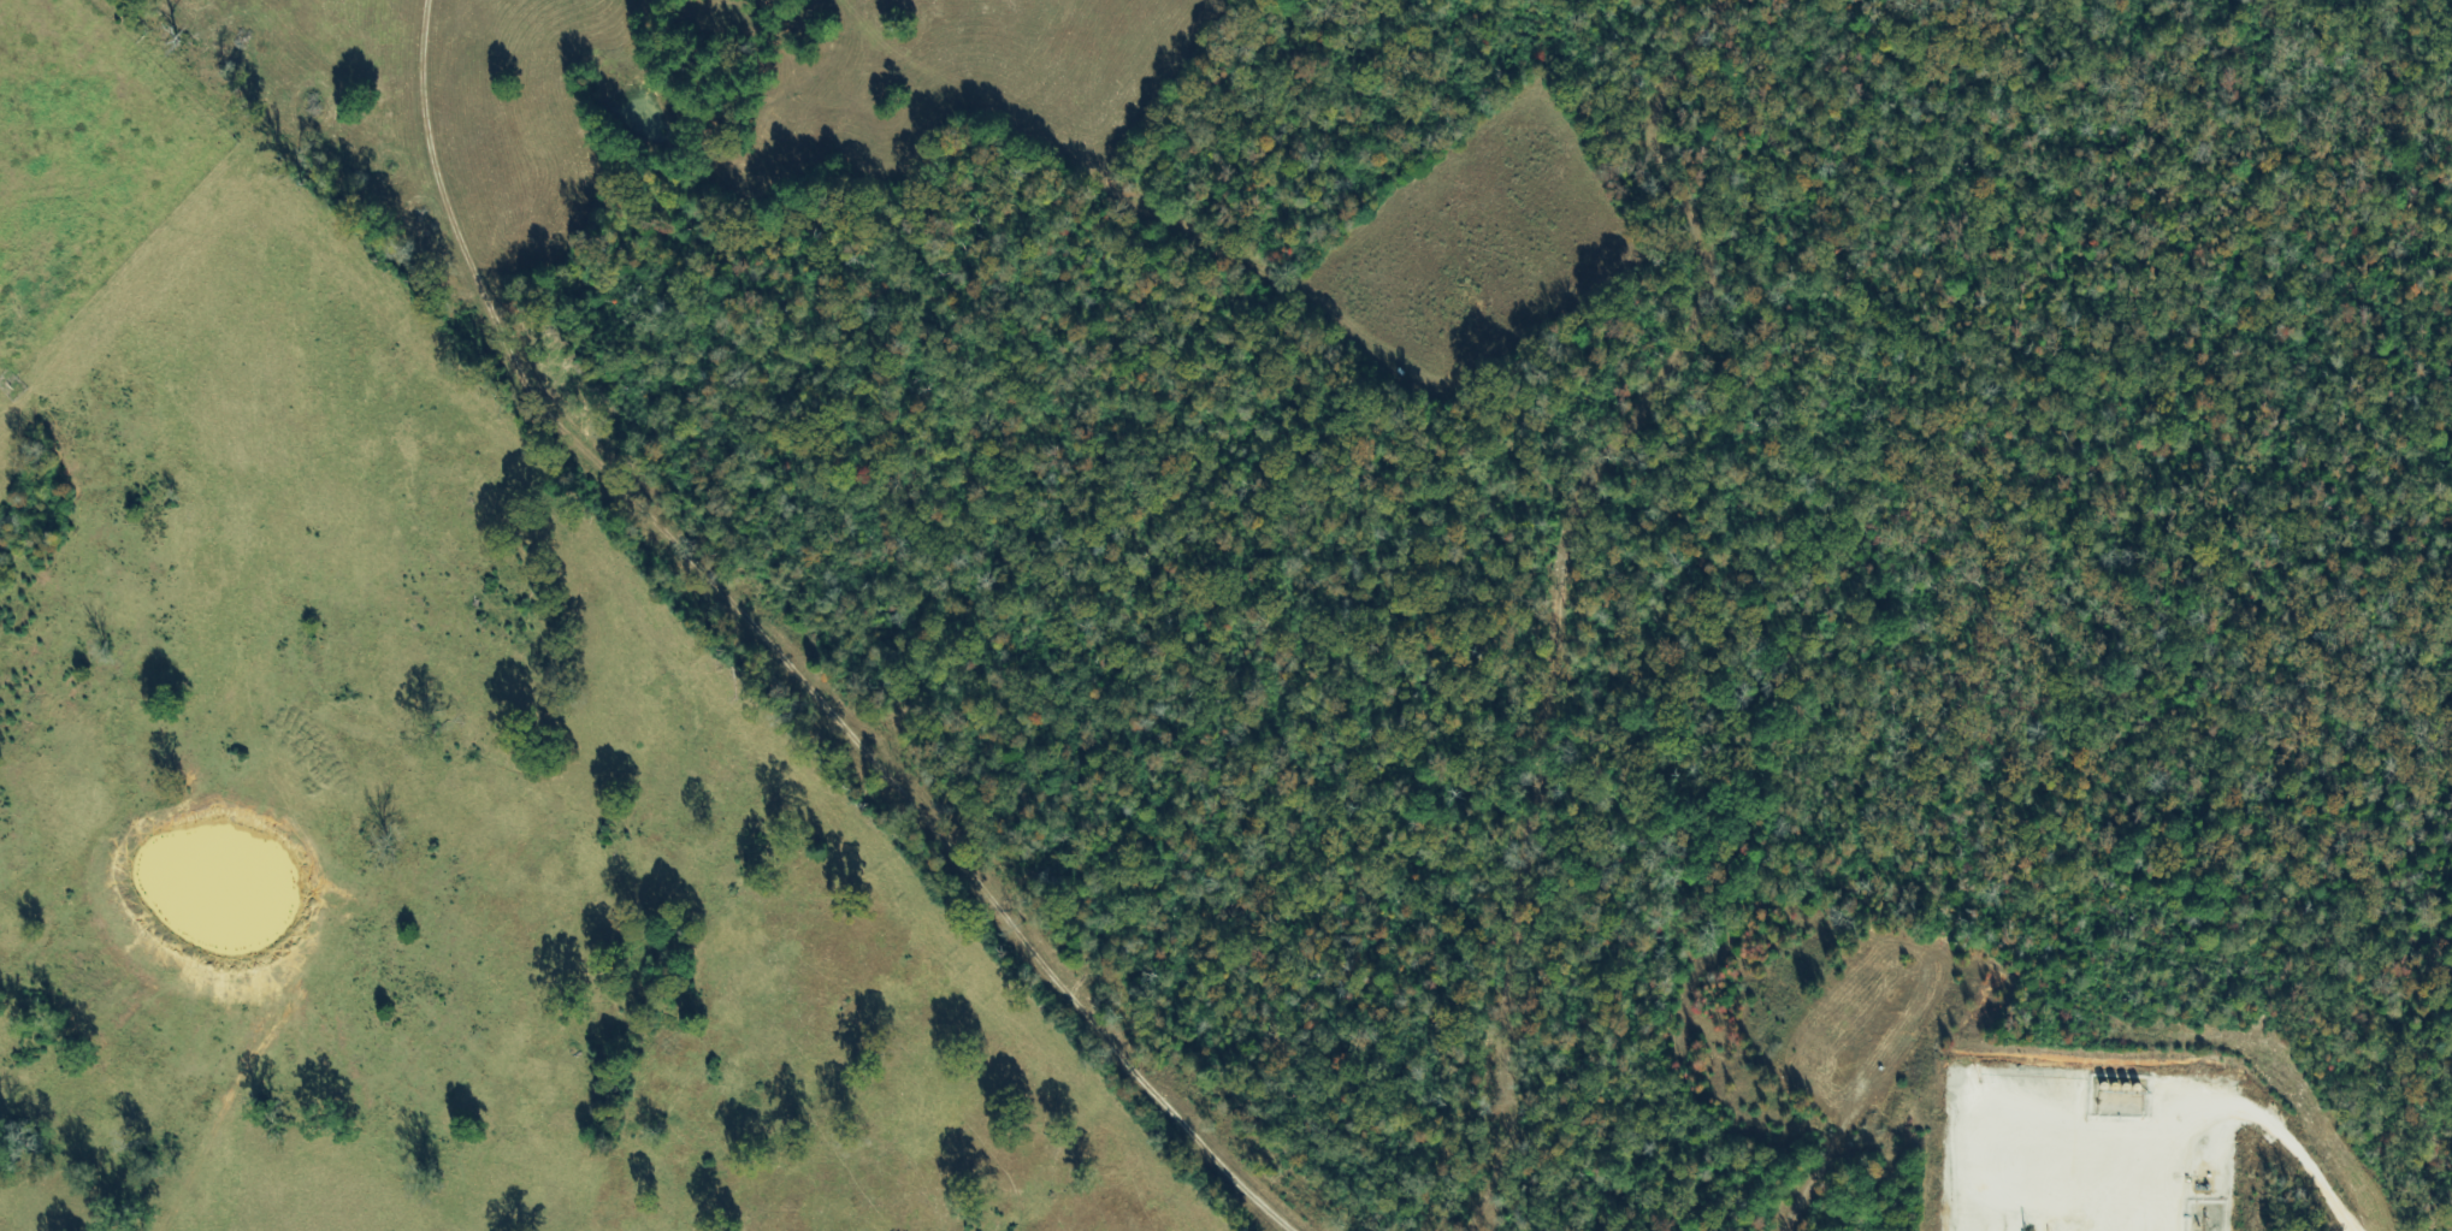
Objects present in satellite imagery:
road: (2305, 1159)

